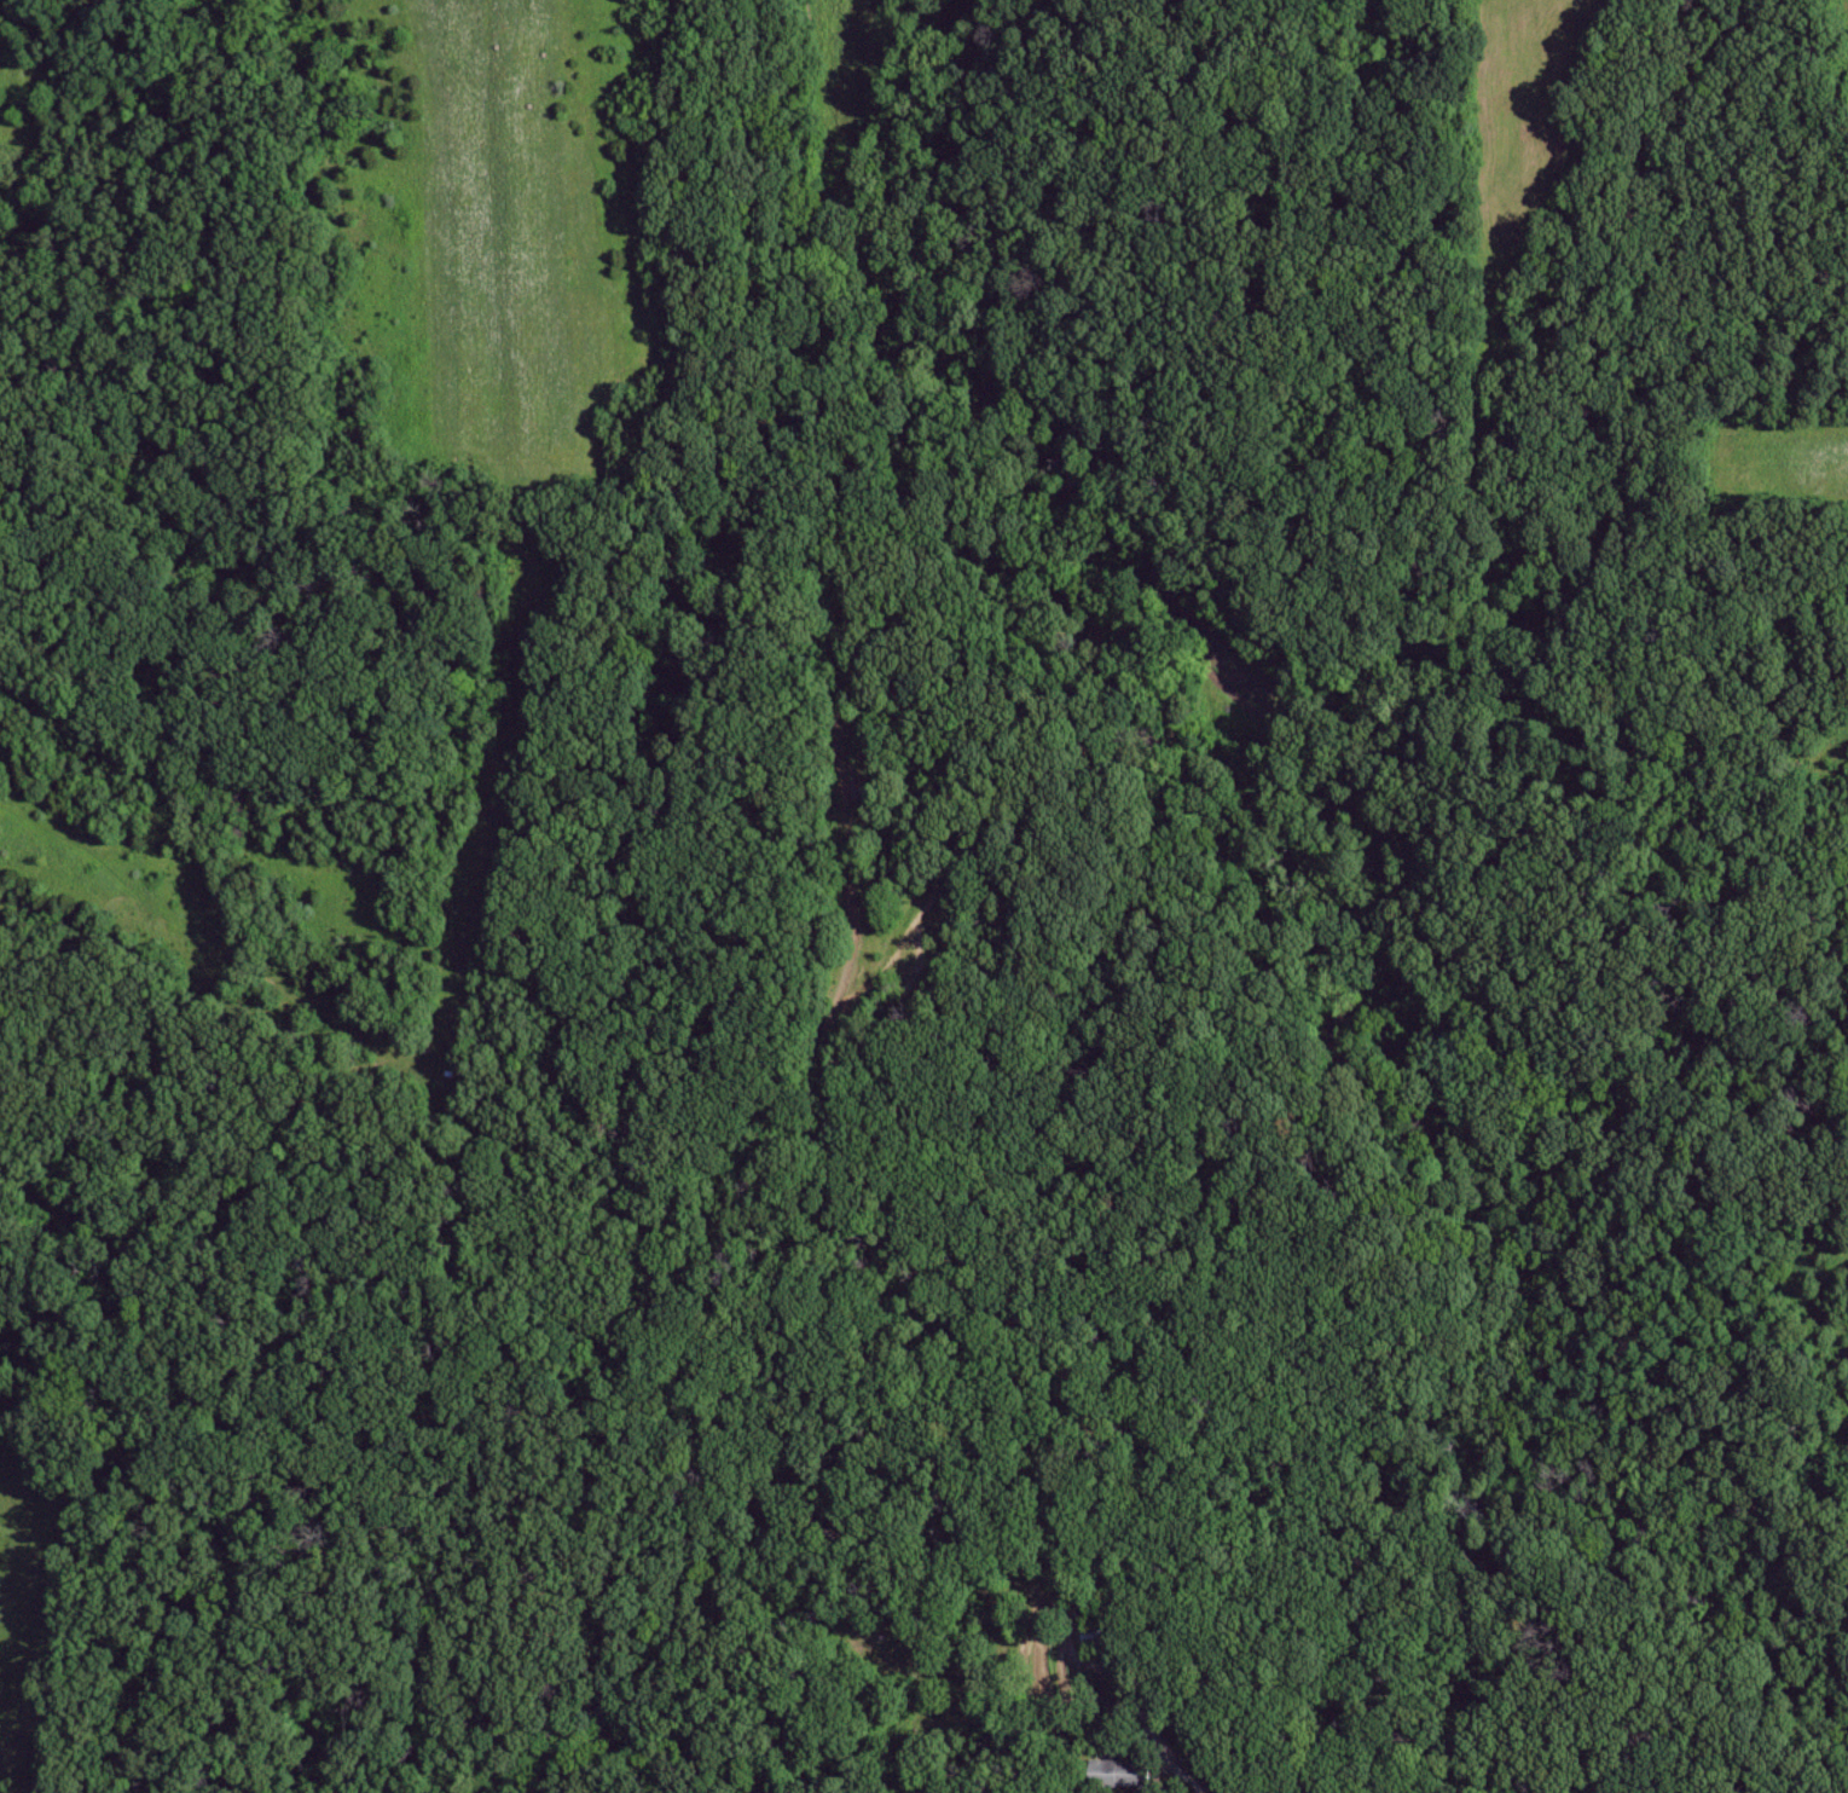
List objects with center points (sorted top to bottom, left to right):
road: (1204, 1756)
building: (1116, 1775)

